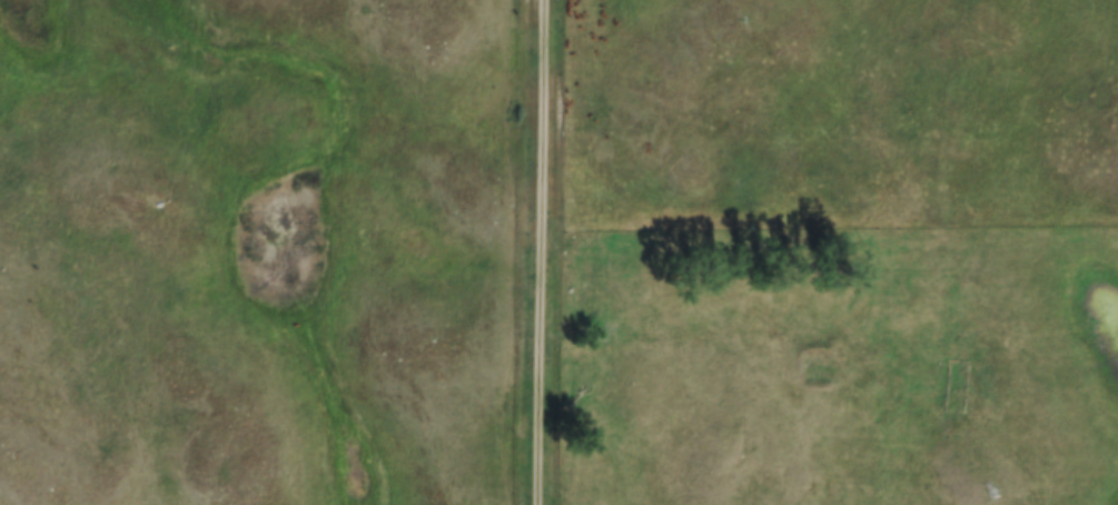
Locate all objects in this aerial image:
road: (537, 253)

